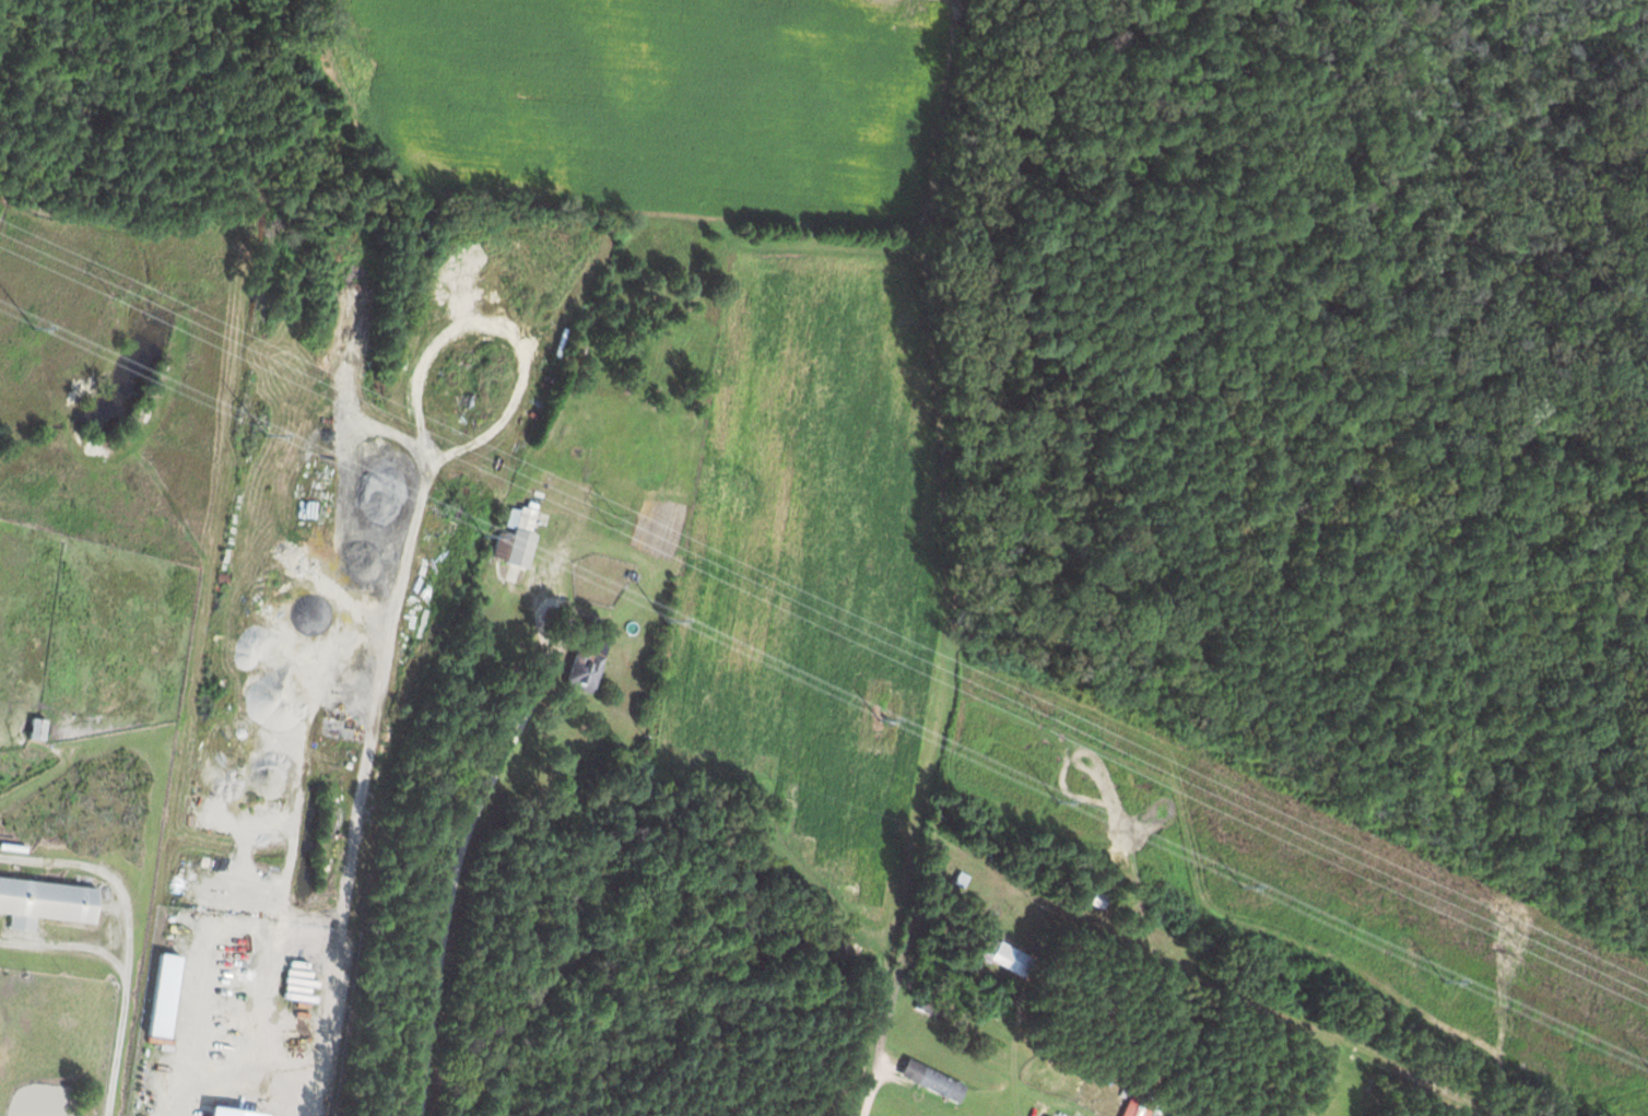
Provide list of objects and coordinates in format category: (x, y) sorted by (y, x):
power tower: (113, 291)
power tower: (34, 328)
power tower: (266, 436)
power tower: (612, 521)
power tower: (481, 539)
building: (513, 540)
power tower: (663, 623)
building: (580, 667)
power tower: (875, 721)
power tower: (1043, 721)
building: (33, 730)
power tower: (1052, 804)
road: (103, 876)
road: (452, 885)
power tower: (1238, 891)
building: (44, 904)
power tower: (1521, 941)
road: (66, 949)
building: (1003, 958)
power tower: (1444, 983)
road: (117, 1046)
building: (929, 1082)
building: (1133, 1108)

